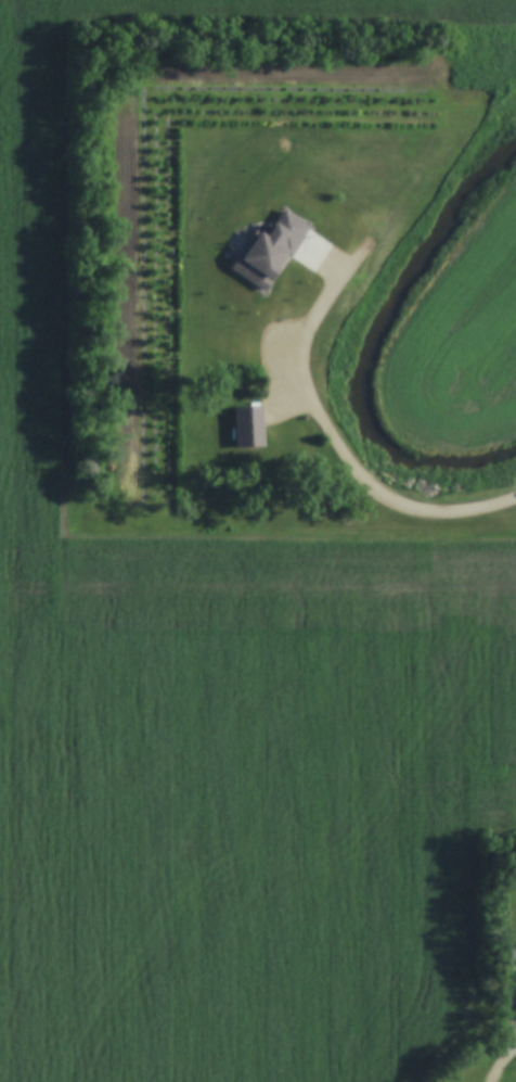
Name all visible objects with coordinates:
building: (495, 44)
building: (272, 252)
road: (278, 331)
building: (250, 429)
road: (391, 504)
building: (512, 955)
road: (507, 1053)
road: (494, 1071)
park: (512, 1074)

